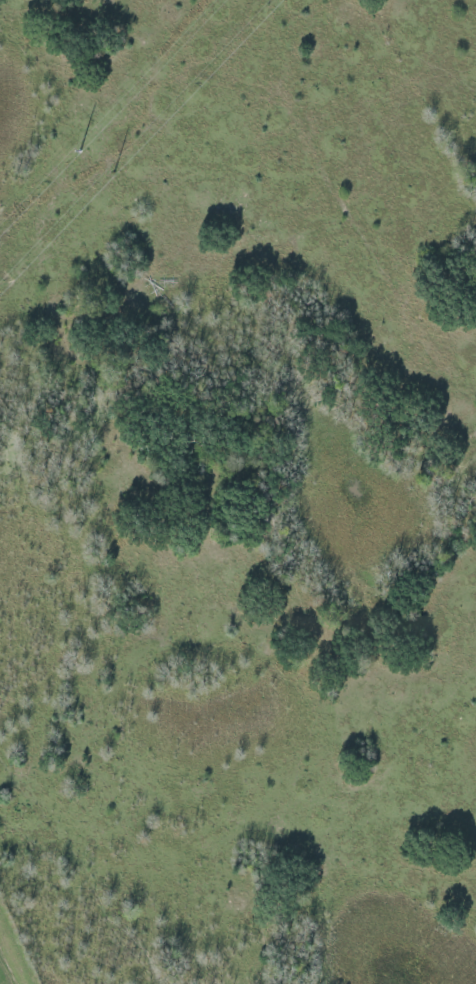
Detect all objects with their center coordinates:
power tower: (83, 146)

